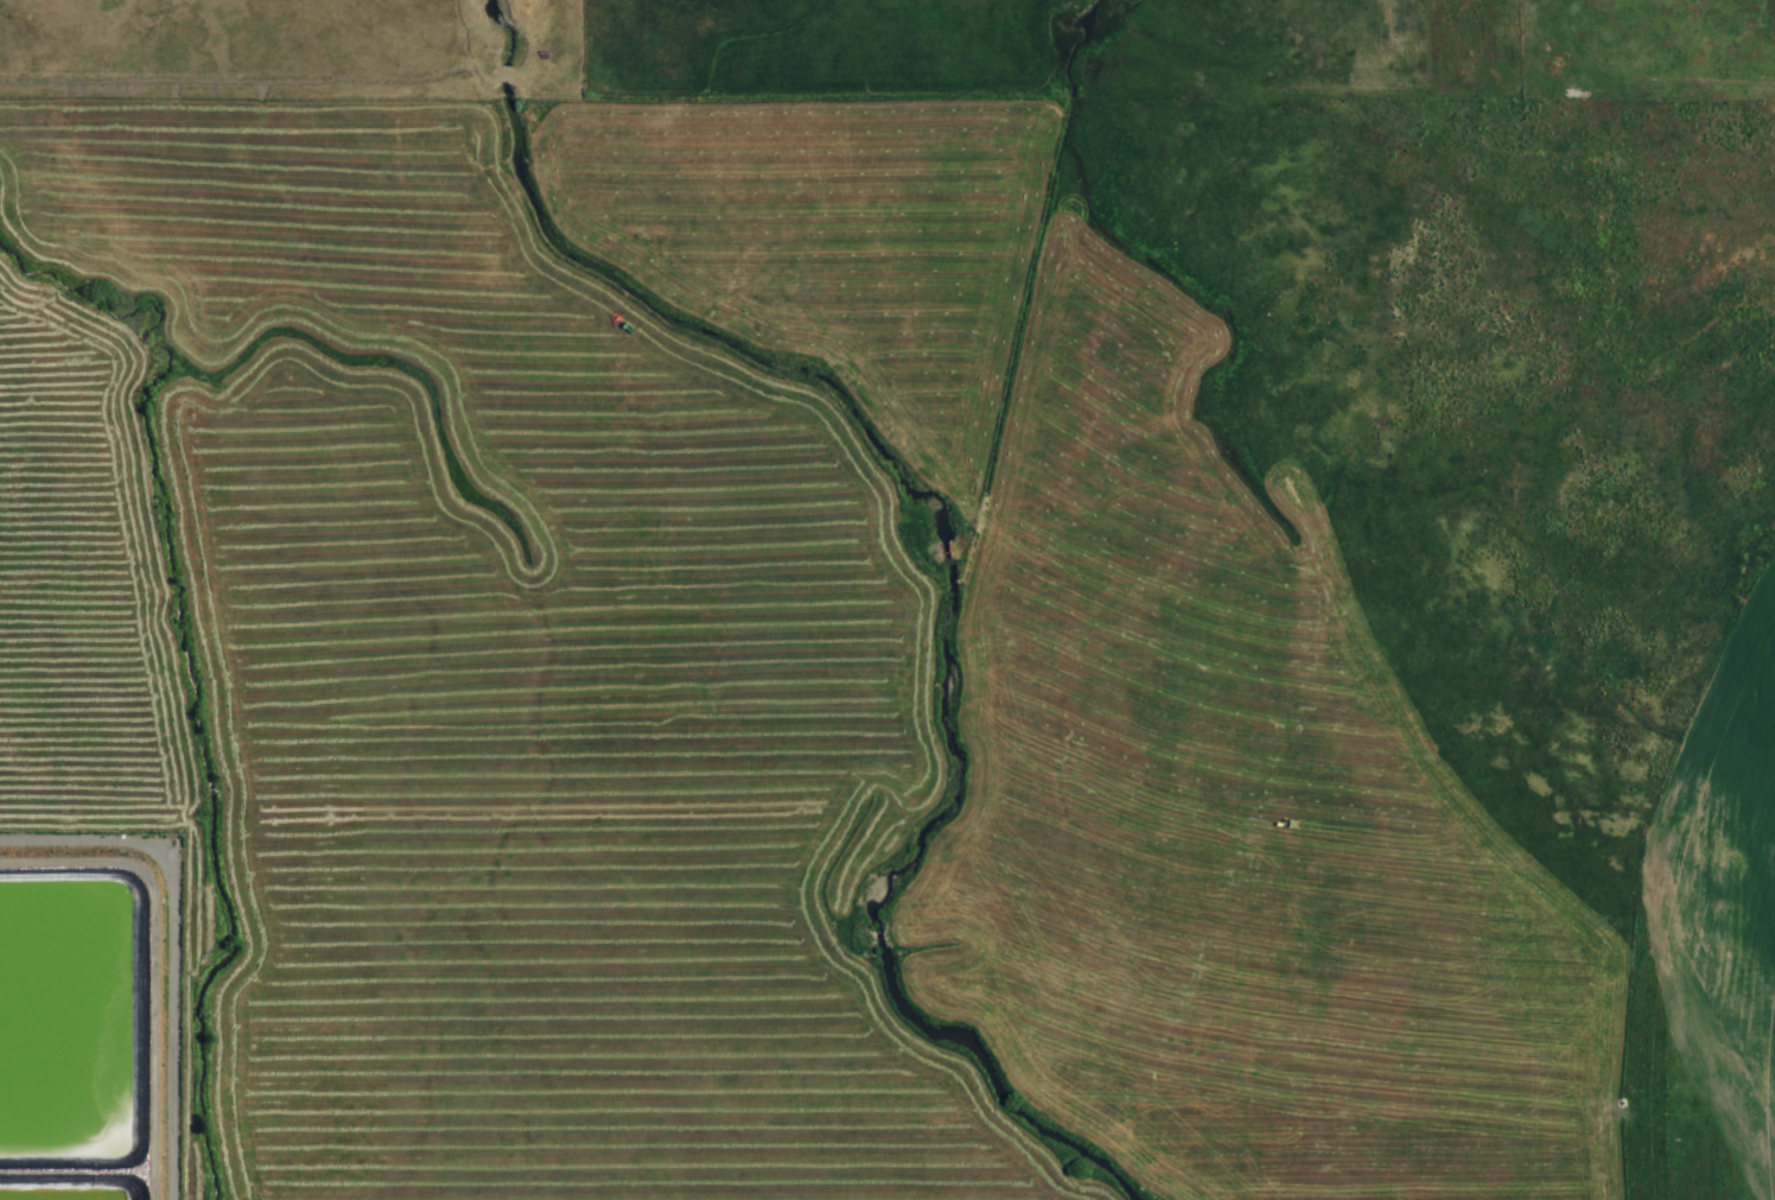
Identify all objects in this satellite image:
crop: (1459, 57)
crop: (297, 58)
crop: (904, 629)

